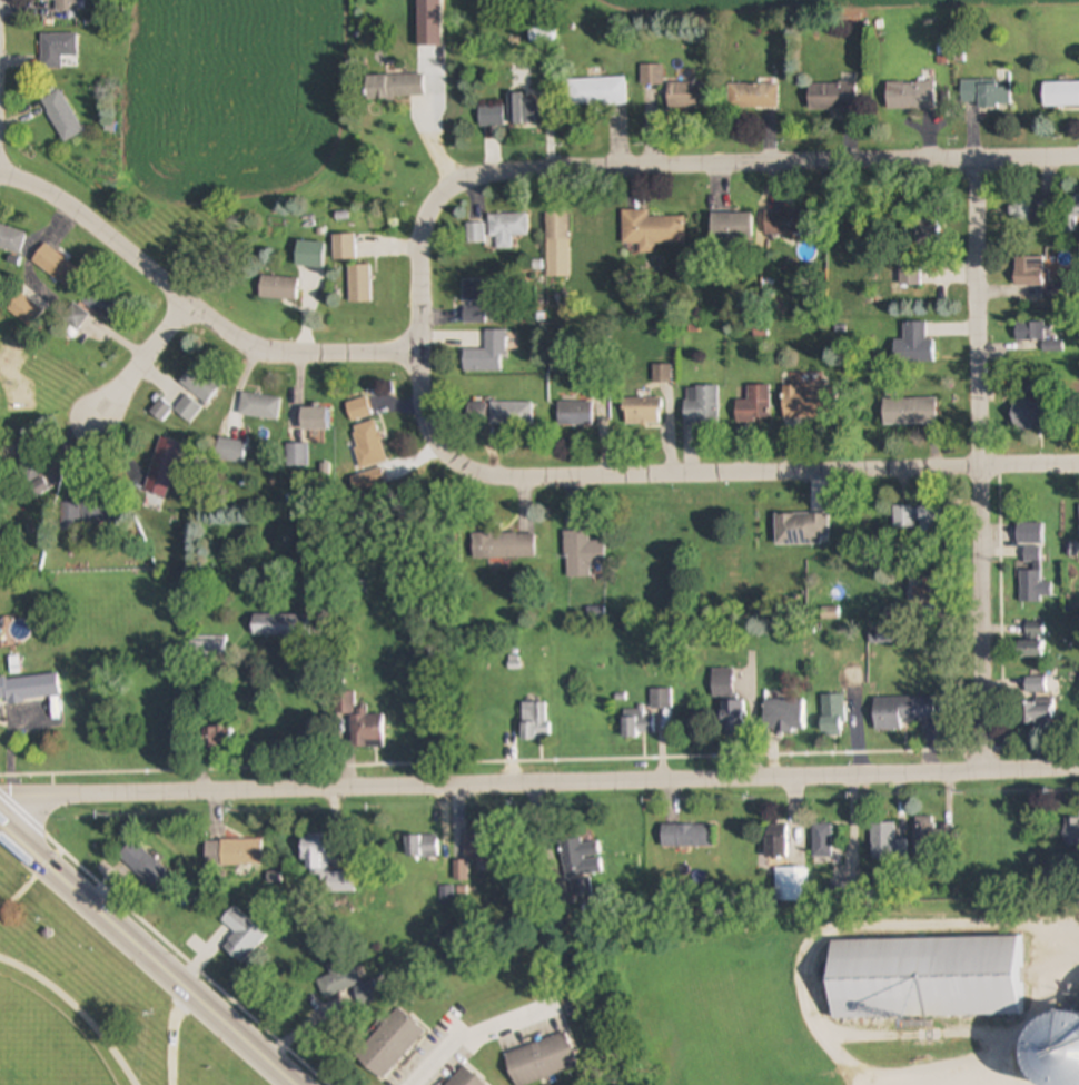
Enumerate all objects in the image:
building: (66, 4)
building: (57, 49)
building: (433, 61)
building: (651, 75)
building: (395, 86)
building: (597, 91)
building: (1061, 93)
building: (685, 95)
building: (987, 95)
building: (753, 96)
building: (832, 96)
building: (911, 96)
building: (523, 109)
building: (62, 115)
building: (491, 115)
road: (771, 160)
building: (1031, 208)
building: (1073, 209)
building: (786, 223)
building: (729, 226)
building: (507, 228)
building: (649, 229)
building: (921, 231)
building: (11, 238)
building: (557, 245)
building: (345, 246)
building: (309, 254)
building: (58, 267)
building: (1029, 272)
building: (357, 284)
building: (278, 287)
building: (477, 290)
building: (107, 304)
road: (188, 306)
road: (980, 308)
building: (24, 309)
building: (473, 315)
building: (76, 317)
road: (416, 327)
building: (915, 344)
building: (487, 355)
road: (150, 368)
building: (663, 374)
building: (200, 383)
building: (805, 403)
building: (701, 406)
building: (754, 406)
building: (259, 407)
building: (188, 410)
building: (359, 410)
building: (161, 411)
building: (642, 412)
building: (910, 412)
building: (476, 413)
building: (574, 414)
building: (1028, 414)
building: (511, 415)
building: (315, 420)
building: (369, 441)
building: (230, 451)
building: (28, 458)
building: (162, 467)
road: (770, 470)
building: (88, 515)
building: (903, 520)
building: (930, 520)
building: (802, 529)
building: (1029, 533)
building: (503, 545)
building: (582, 554)
building: (1033, 576)
road: (980, 614)
building: (278, 625)
building: (1033, 630)
building: (1030, 649)
building: (1035, 684)
building: (661, 699)
building: (727, 706)
building: (901, 712)
building: (1038, 713)
building: (832, 716)
building: (783, 717)
building: (534, 721)
building: (636, 723)
building: (362, 724)
building: (214, 736)
road: (538, 779)
building: (1072, 832)
building: (687, 836)
building: (924, 837)
building: (775, 841)
building: (822, 841)
building: (888, 844)
building: (422, 847)
building: (234, 851)
building: (581, 859)
building: (324, 866)
building: (146, 868)
building: (791, 885)
road: (1067, 928)
building: (241, 936)
road: (147, 955)
building: (338, 978)
building: (925, 978)
park: (87, 1003)
road: (474, 1037)
building: (389, 1044)
building: (1055, 1052)
building: (539, 1061)
building: (465, 1078)

